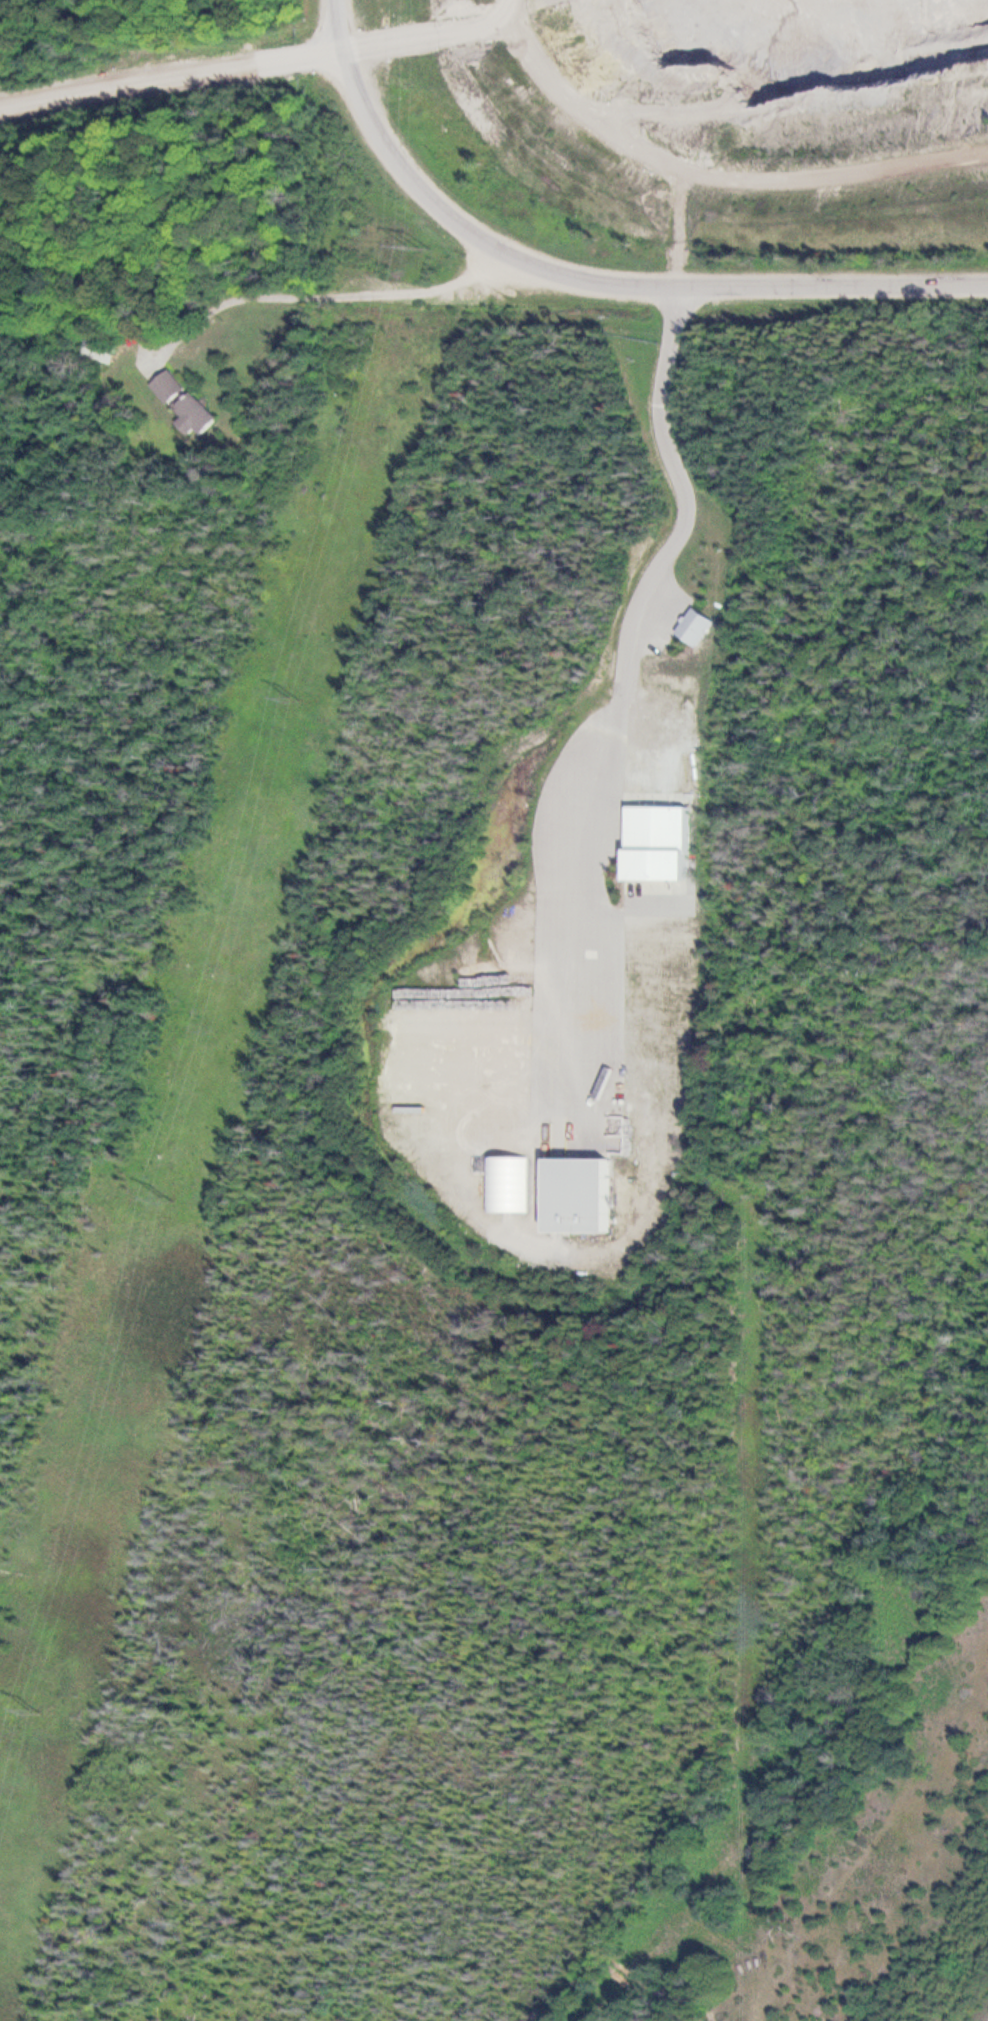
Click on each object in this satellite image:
quarry: (766, 79)
road: (582, 282)
building: (102, 351)
building: (169, 388)
building: (197, 416)
building: (700, 626)
building: (663, 850)
building: (586, 1196)

